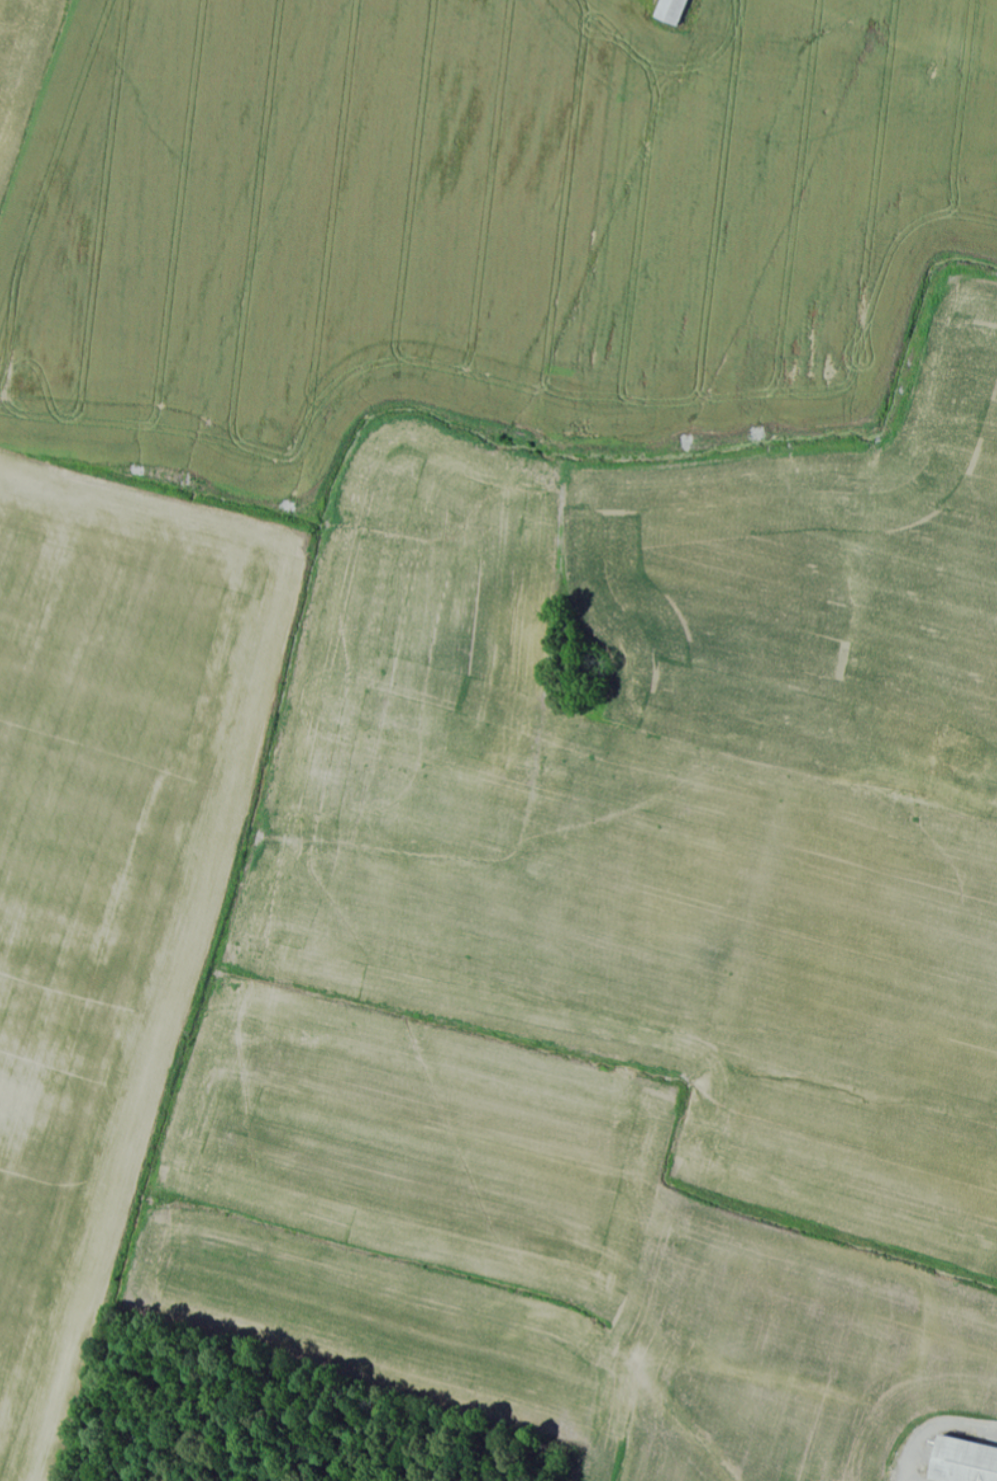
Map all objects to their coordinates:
building: (669, 11)
road: (600, 318)
building: (966, 1460)

